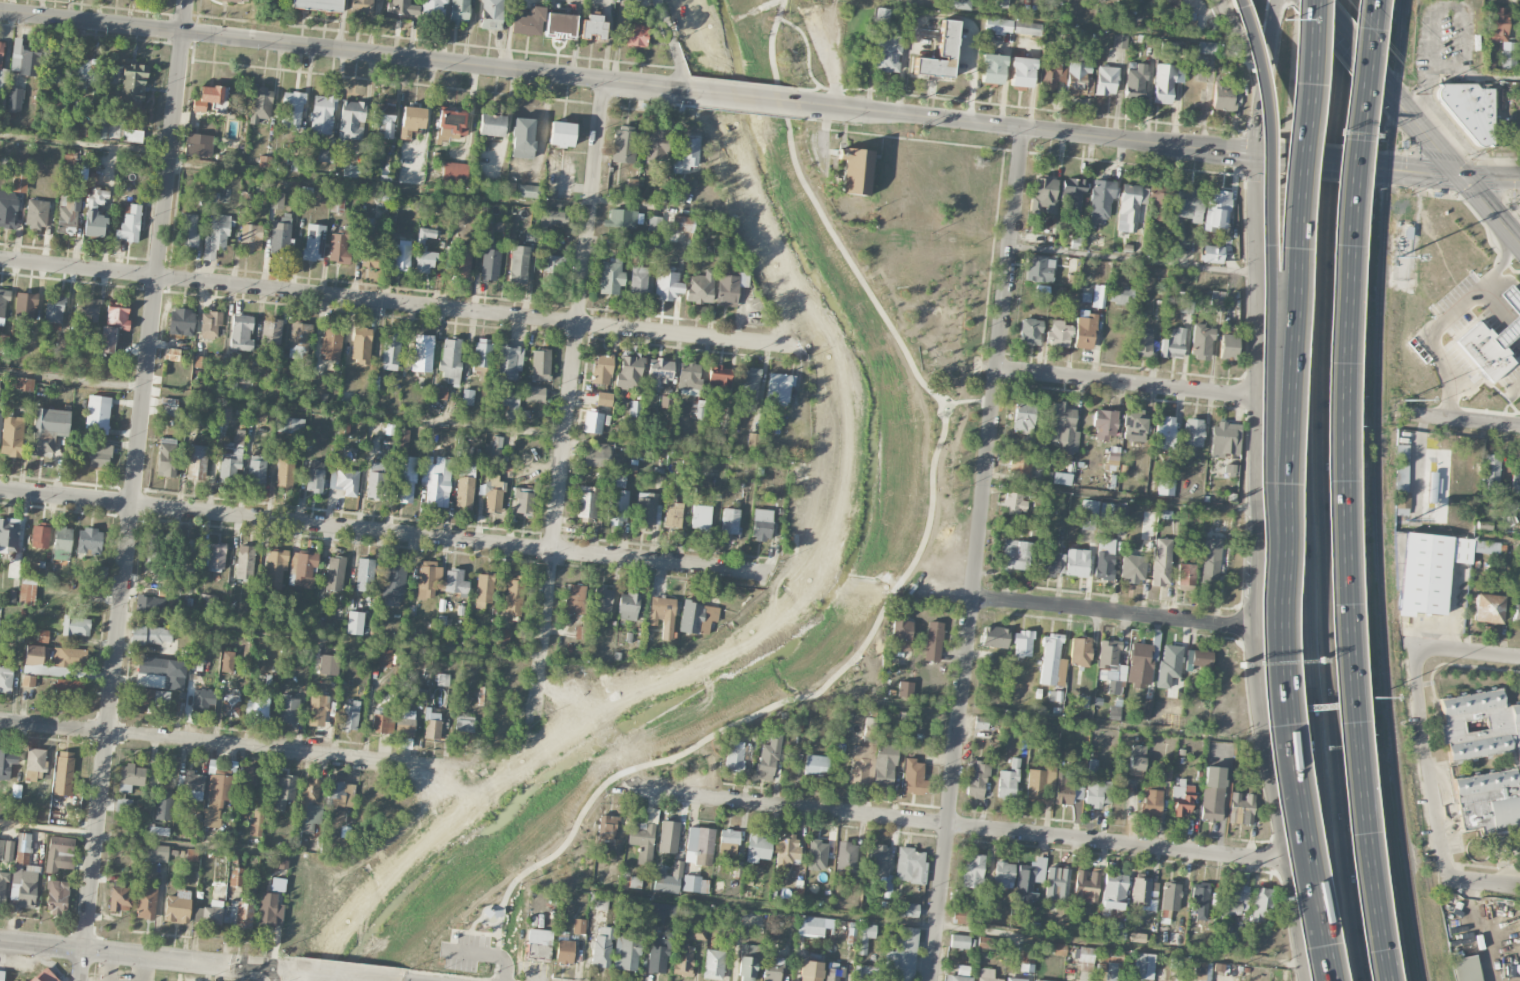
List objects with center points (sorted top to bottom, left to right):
building: (238, 0)
building: (1168, 0)
road: (1219, 0)
building: (317, 4)
building: (960, 4)
building: (1001, 4)
road: (1243, 6)
building: (361, 7)
building: (401, 8)
building: (433, 8)
building: (459, 11)
building: (491, 14)
building: (882, 14)
road: (944, 17)
building: (1189, 20)
building: (528, 23)
building: (560, 24)
building: (1519, 24)
building: (1496, 25)
building: (998, 26)
road: (1089, 26)
building: (593, 27)
building: (1027, 28)
road: (1339, 31)
building: (636, 35)
parking lot: (823, 36)
road: (1379, 36)
road: (1237, 38)
road: (771, 39)
building: (1120, 42)
road: (673, 45)
building: (1168, 48)
building: (1206, 48)
road: (342, 52)
building: (940, 53)
building: (887, 54)
road: (808, 57)
building: (24, 58)
road: (1475, 60)
building: (1509, 60)
building: (53, 68)
road: (1371, 68)
building: (86, 69)
building: (992, 69)
building: (2, 72)
building: (1022, 73)
building: (1051, 73)
traffic signals: (1376, 73)
building: (1079, 76)
building: (1106, 80)
building: (1167, 82)
building: (1136, 83)
building: (133, 87)
building: (1224, 96)
building: (209, 97)
road: (744, 97)
building: (15, 99)
road: (781, 102)
building: (260, 104)
building: (1469, 110)
building: (291, 111)
building: (322, 113)
building: (383, 119)
road: (1373, 120)
building: (351, 121)
building: (411, 121)
building: (450, 124)
building: (491, 125)
road: (1419, 125)
building: (101, 128)
road: (1028, 129)
building: (561, 134)
building: (132, 136)
building: (522, 138)
building: (655, 144)
building: (198, 145)
building: (623, 145)
traffic signals: (1256, 154)
building: (686, 155)
road: (1264, 155)
building: (324, 156)
building: (264, 160)
road: (1315, 161)
traffic signals: (1370, 167)
building: (854, 170)
road: (1411, 171)
road: (294, 175)
building: (454, 175)
traffic signals: (1464, 177)
road: (1491, 178)
building: (19, 183)
building: (632, 186)
road: (1452, 189)
building: (528, 191)
building: (1045, 194)
building: (1073, 194)
building: (276, 200)
building: (1100, 201)
building: (336, 203)
building: (1159, 203)
building: (1189, 204)
building: (1130, 207)
building: (8, 209)
road: (1491, 209)
building: (1216, 211)
building: (36, 214)
building: (68, 215)
building: (551, 218)
building: (622, 218)
building: (681, 223)
building: (129, 224)
building: (655, 224)
building: (188, 230)
building: (281, 235)
building: (426, 235)
building: (216, 237)
building: (251, 238)
building: (314, 242)
building: (338, 248)
building: (370, 251)
building: (1212, 254)
building: (402, 256)
road: (1133, 260)
building: (424, 261)
building: (462, 261)
building: (490, 264)
building: (519, 264)
building: (553, 266)
building: (1041, 268)
building: (610, 277)
building: (638, 280)
building: (667, 286)
building: (699, 288)
building: (729, 289)
building: (1042, 292)
building: (1099, 296)
building: (1121, 296)
road: (1493, 300)
building: (1216, 302)
road: (399, 304)
building: (3, 306)
building: (25, 306)
building: (54, 309)
building: (86, 310)
road: (1291, 314)
road: (1441, 318)
road: (1266, 320)
building: (181, 322)
building: (1514, 323)
gas station: (1514, 323)
building: (113, 324)
building: (210, 325)
building: (1085, 330)
building: (1030, 332)
building: (241, 333)
building: (1059, 335)
building: (268, 339)
building: (299, 339)
building: (1142, 342)
building: (1201, 342)
building: (331, 343)
building: (1173, 344)
building: (360, 345)
building: (1228, 347)
building: (1484, 351)
building: (390, 352)
building: (422, 353)
building: (482, 353)
building: (171, 354)
building: (450, 359)
building: (200, 362)
building: (509, 362)
building: (540, 365)
road: (1328, 365)
building: (602, 369)
building: (629, 372)
building: (659, 372)
building: (719, 377)
building: (688, 378)
building: (24, 384)
road: (1125, 385)
building: (748, 388)
building: (779, 388)
building: (439, 393)
building: (534, 394)
building: (467, 397)
building: (604, 399)
building: (510, 400)
road: (569, 401)
road: (967, 401)
building: (167, 405)
building: (635, 409)
building: (224, 413)
building: (97, 415)
road: (399, 416)
building: (1024, 417)
building: (0, 419)
road: (1463, 421)
building: (592, 422)
building: (290, 425)
building: (1105, 425)
building: (1133, 426)
building: (1063, 428)
building: (48, 429)
building: (1165, 433)
building: (1193, 433)
building: (11, 436)
building: (1225, 439)
building: (402, 440)
building: (753, 442)
road: (1348, 449)
building: (596, 455)
building: (99, 456)
building: (166, 457)
building: (231, 458)
building: (1112, 458)
building: (197, 463)
building: (1021, 465)
building: (1401, 468)
building: (254, 470)
building: (1490, 470)
building: (1516, 472)
building: (284, 473)
building: (314, 476)
building: (404, 479)
building: (1062, 479)
building: (376, 480)
building: (436, 480)
building: (345, 481)
building: (618, 481)
building: (465, 485)
building: (1441, 486)
building: (1165, 487)
road: (133, 490)
road: (1340, 490)
road: (1253, 491)
road: (1309, 491)
railway: (1378, 491)
building: (493, 493)
road: (1119, 495)
building: (523, 501)
building: (586, 502)
building: (1014, 503)
building: (1089, 508)
building: (618, 509)
building: (647, 511)
building: (1113, 512)
building: (673, 515)
building: (701, 517)
building: (730, 521)
building: (761, 525)
building: (1148, 526)
building: (1484, 526)
road: (381, 532)
building: (9, 534)
road: (1455, 534)
building: (40, 536)
building: (88, 541)
building: (62, 543)
building: (205, 553)
road: (977, 554)
building: (1015, 555)
building: (1104, 559)
building: (1161, 562)
building: (245, 563)
building: (1076, 563)
building: (1211, 563)
building: (1050, 564)
building: (275, 568)
building: (302, 569)
building: (1132, 569)
building: (1433, 569)
building: (99, 571)
building: (334, 574)
building: (1185, 574)
building: (364, 575)
building: (428, 579)
building: (393, 580)
building: (155, 581)
building: (455, 582)
building: (27, 589)
building: (483, 590)
building: (514, 598)
building: (603, 599)
building: (575, 600)
building: (149, 604)
building: (628, 606)
building: (1488, 609)
road: (1075, 610)
building: (1516, 613)
road: (880, 615)
building: (662, 616)
building: (697, 618)
road: (1277, 619)
building: (354, 623)
building: (76, 626)
building: (579, 632)
building: (151, 635)
building: (42, 636)
building: (901, 636)
building: (504, 637)
building: (995, 637)
road: (338, 640)
building: (933, 641)
building: (1023, 643)
building: (1080, 651)
road: (1468, 651)
building: (382, 658)
building: (1198, 658)
building: (1050, 659)
building: (52, 660)
building: (227, 661)
building: (328, 665)
building: (1169, 665)
building: (1139, 666)
building: (1111, 667)
building: (160, 673)
building: (6, 679)
building: (27, 680)
building: (443, 680)
building: (69, 689)
building: (905, 689)
building: (482, 695)
building: (151, 699)
building: (203, 700)
building: (231, 705)
building: (258, 707)
building: (317, 709)
building: (1147, 709)
building: (288, 711)
building: (1114, 713)
building: (350, 716)
road: (1049, 719)
building: (405, 722)
building: (981, 723)
building: (383, 724)
building: (464, 724)
building: (432, 726)
building: (871, 728)
road: (228, 744)
road: (1285, 749)
building: (737, 757)
building: (768, 759)
building: (1137, 760)
building: (7, 764)
building: (35, 764)
building: (861, 764)
building: (1515, 764)
building: (884, 765)
road: (1429, 765)
building: (816, 766)
building: (64, 771)
building: (130, 777)
building: (250, 777)
building: (914, 777)
building: (976, 779)
building: (1007, 783)
building: (1041, 783)
building: (192, 786)
building: (1096, 788)
building: (16, 790)
building: (1066, 791)
building: (285, 793)
building: (339, 794)
building: (1212, 794)
building: (217, 798)
building: (1182, 800)
building: (1152, 802)
building: (123, 805)
building: (163, 805)
building: (309, 805)
building: (1241, 808)
building: (256, 823)
building: (70, 824)
road: (958, 827)
building: (607, 828)
building: (158, 831)
building: (643, 834)
building: (668, 837)
building: (729, 837)
road: (145, 841)
building: (699, 846)
building: (758, 848)
building: (23, 849)
building: (6, 850)
building: (786, 851)
building: (157, 853)
building: (60, 854)
building: (192, 854)
building: (817, 855)
road: (1348, 856)
building: (845, 857)
building: (879, 863)
building: (910, 865)
building: (738, 868)
building: (973, 871)
building: (1004, 875)
building: (669, 879)
building: (1029, 881)
building: (695, 884)
building: (1057, 884)
building: (278, 885)
building: (1087, 885)
road: (1484, 885)
building: (3, 886)
building: (27, 888)
building: (1113, 891)
building: (57, 895)
building: (1144, 895)
building: (1170, 896)
building: (120, 897)
building: (1199, 901)
building: (1234, 901)
building: (599, 902)
building: (146, 903)
building: (1262, 905)
building: (177, 909)
building: (908, 910)
building: (270, 912)
building: (209, 913)
building: (492, 913)
building: (661, 913)
building: (240, 914)
building: (959, 915)
road: (480, 919)
road: (921, 923)
road: (1311, 924)
road: (1315, 924)
building: (813, 925)
building: (579, 926)
building: (1118, 932)
road: (1477, 932)
road: (475, 933)
building: (698, 933)
building: (865, 937)
building: (960, 941)
building: (987, 943)
building: (538, 944)
building: (602, 947)
building: (1061, 949)
building: (564, 950)
parking lot: (467, 952)
building: (626, 954)
road: (482, 955)
building: (657, 955)
building: (1086, 955)
building: (901, 956)
road: (143, 957)
building: (683, 961)
building: (1108, 962)
building: (1175, 963)
building: (713, 965)
building: (1143, 966)
building: (772, 968)
building: (1466, 969)
building: (963, 970)
building: (811, 971)
building: (835, 972)
building: (1203, 972)
building: (864, 973)
building: (987, 975)
building: (1, 976)
building: (37, 976)
road: (323, 977)
building: (958, 978)
building: (1016, 979)
building: (1034, 980)

